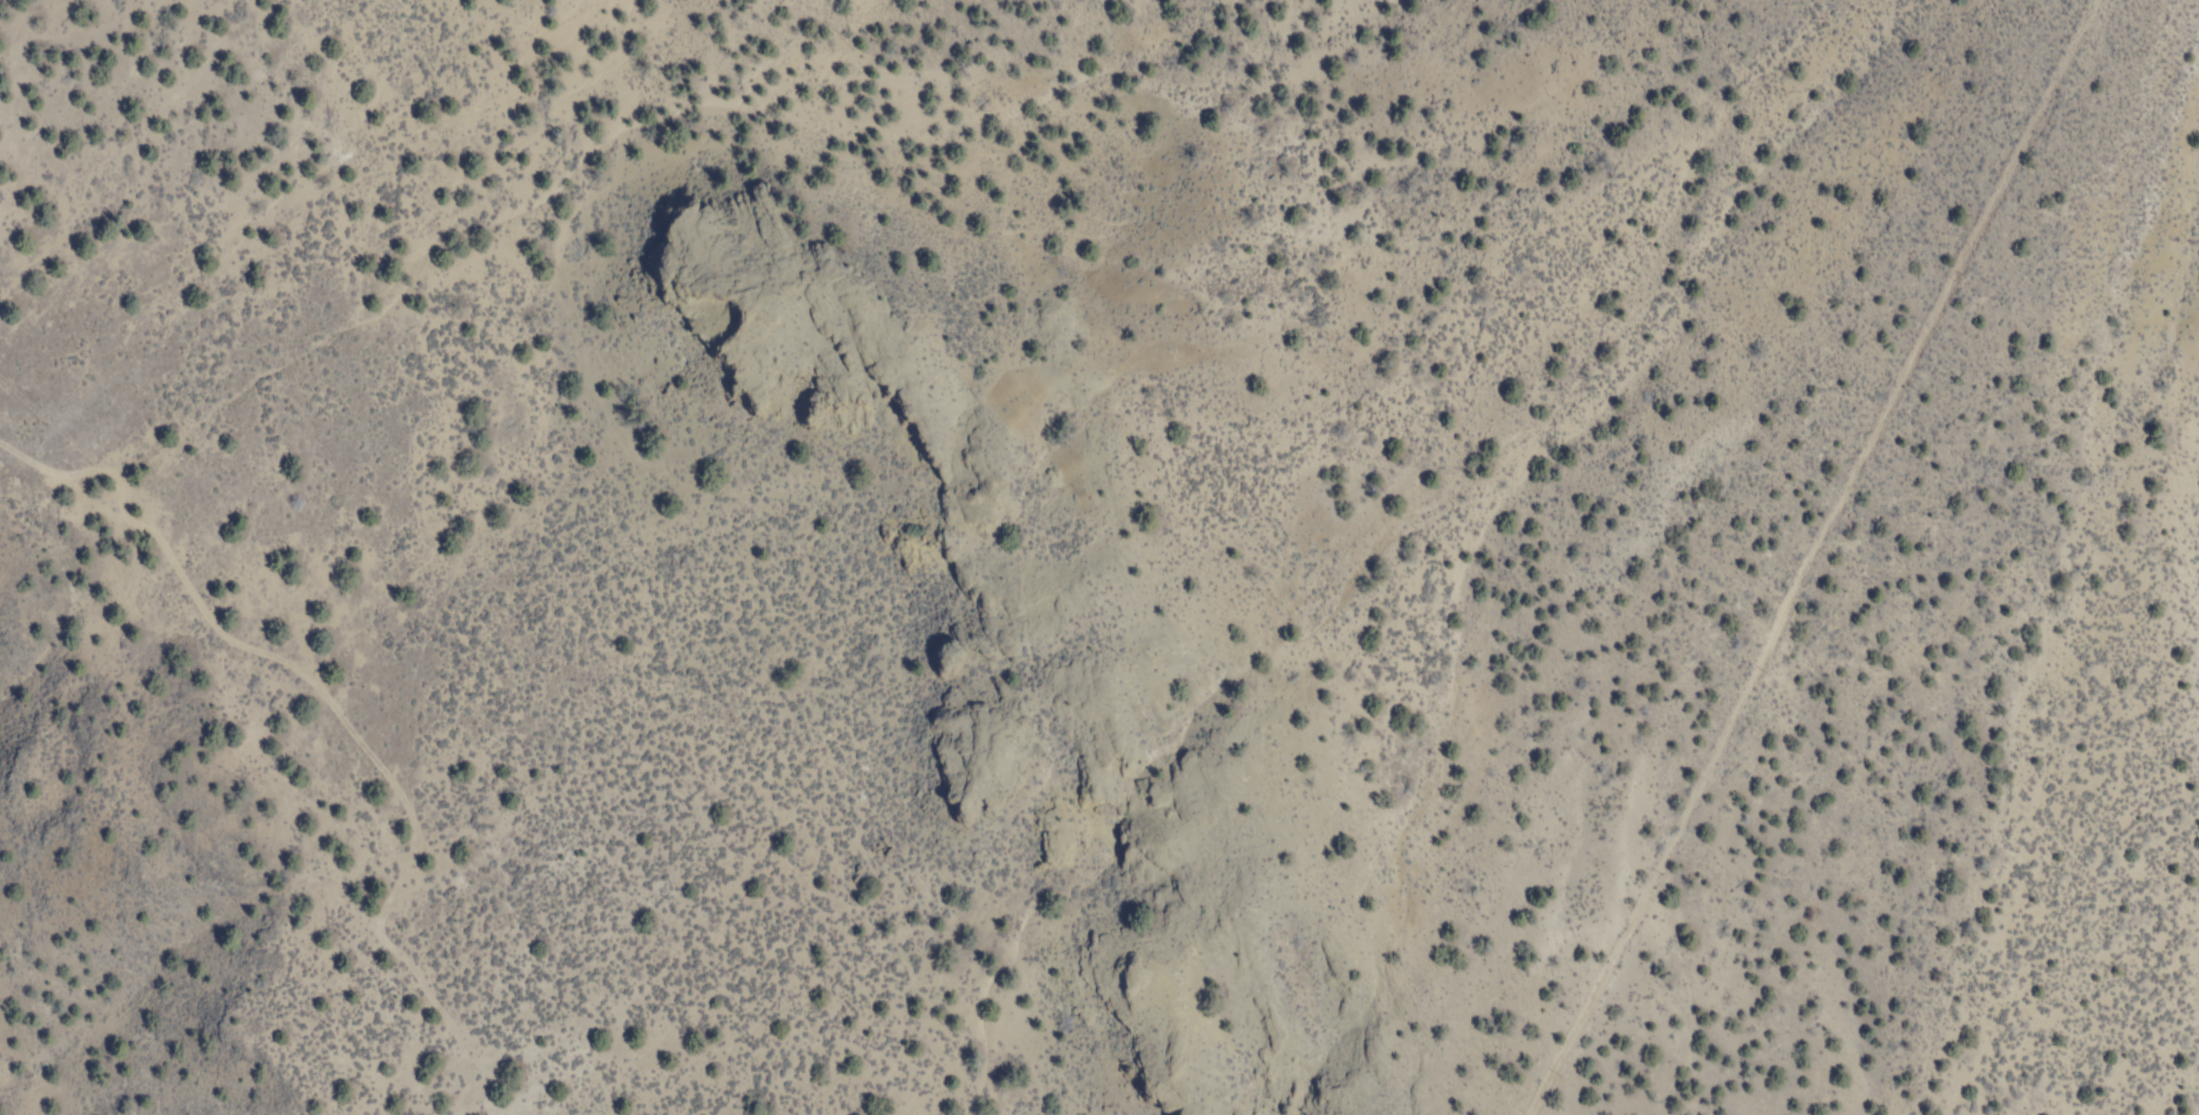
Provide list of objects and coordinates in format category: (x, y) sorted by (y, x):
road: (1830, 557)

